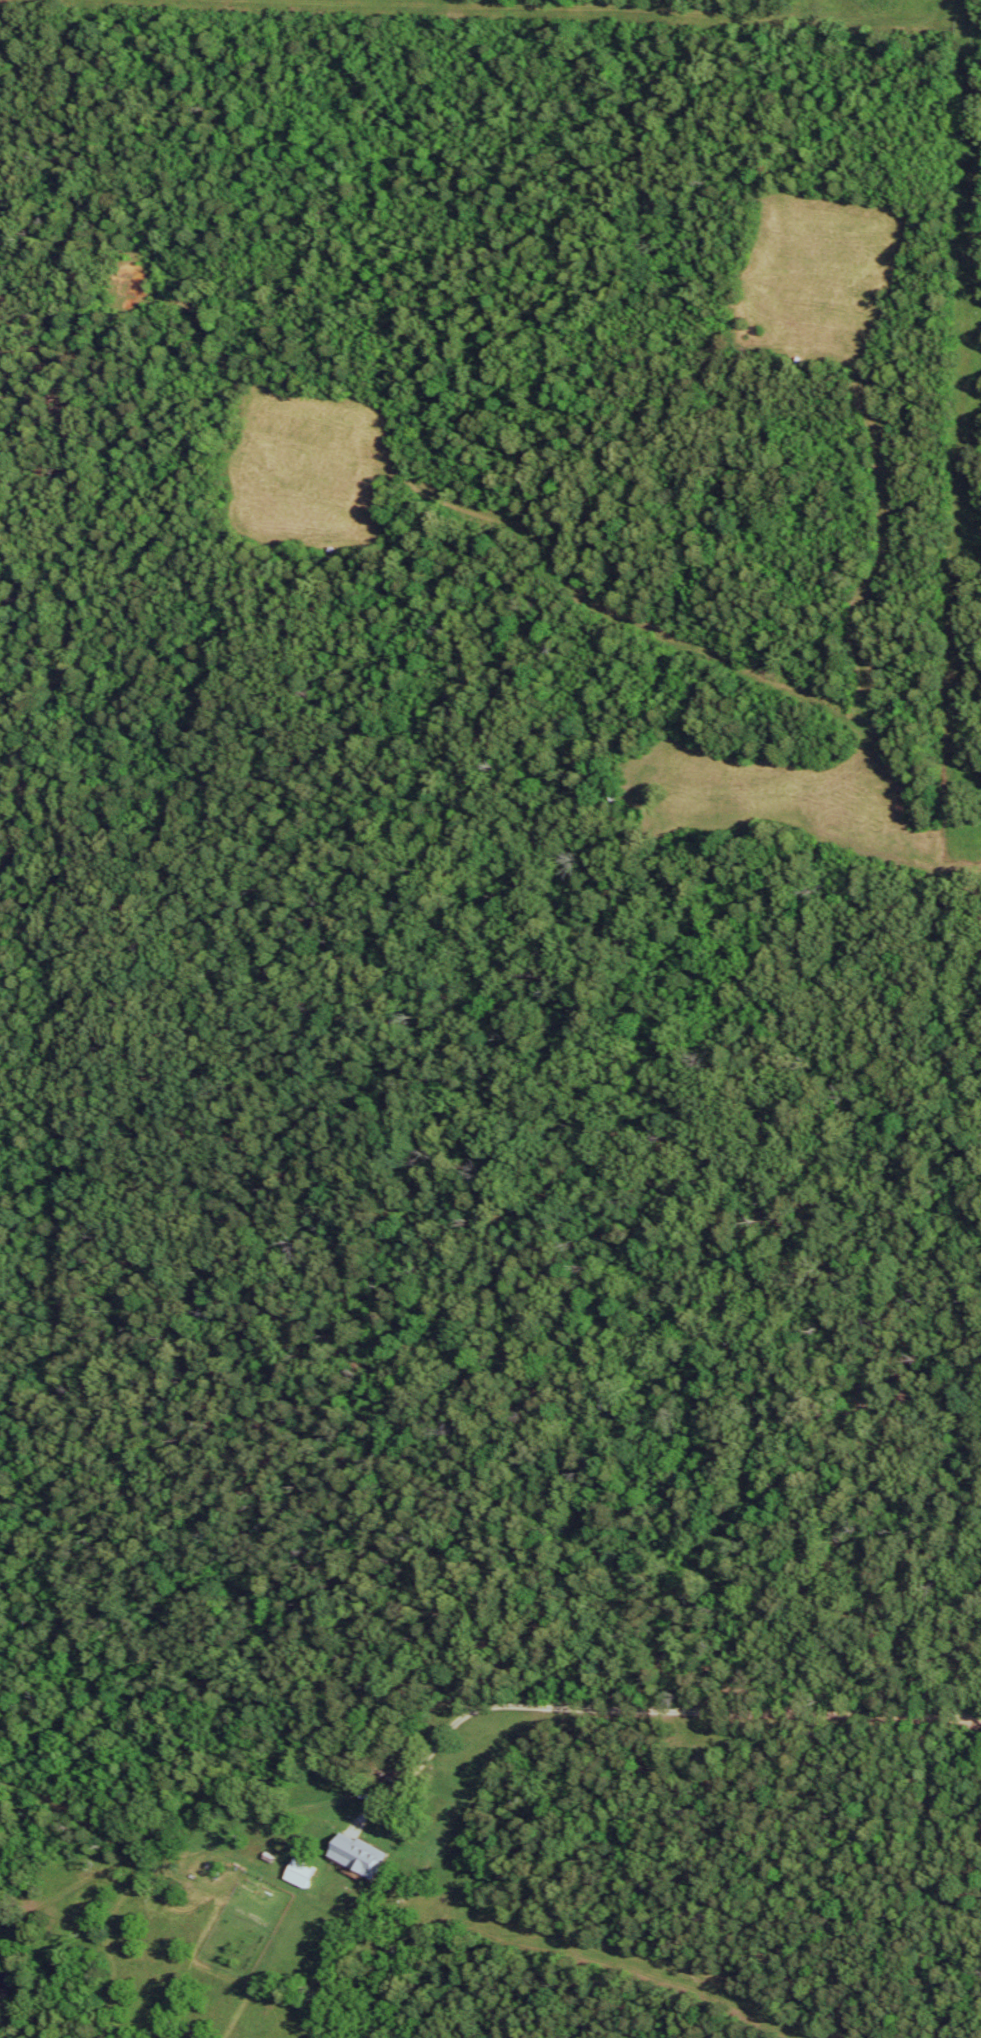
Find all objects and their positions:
road: (775, 1710)
building: (358, 1859)
building: (299, 1878)

